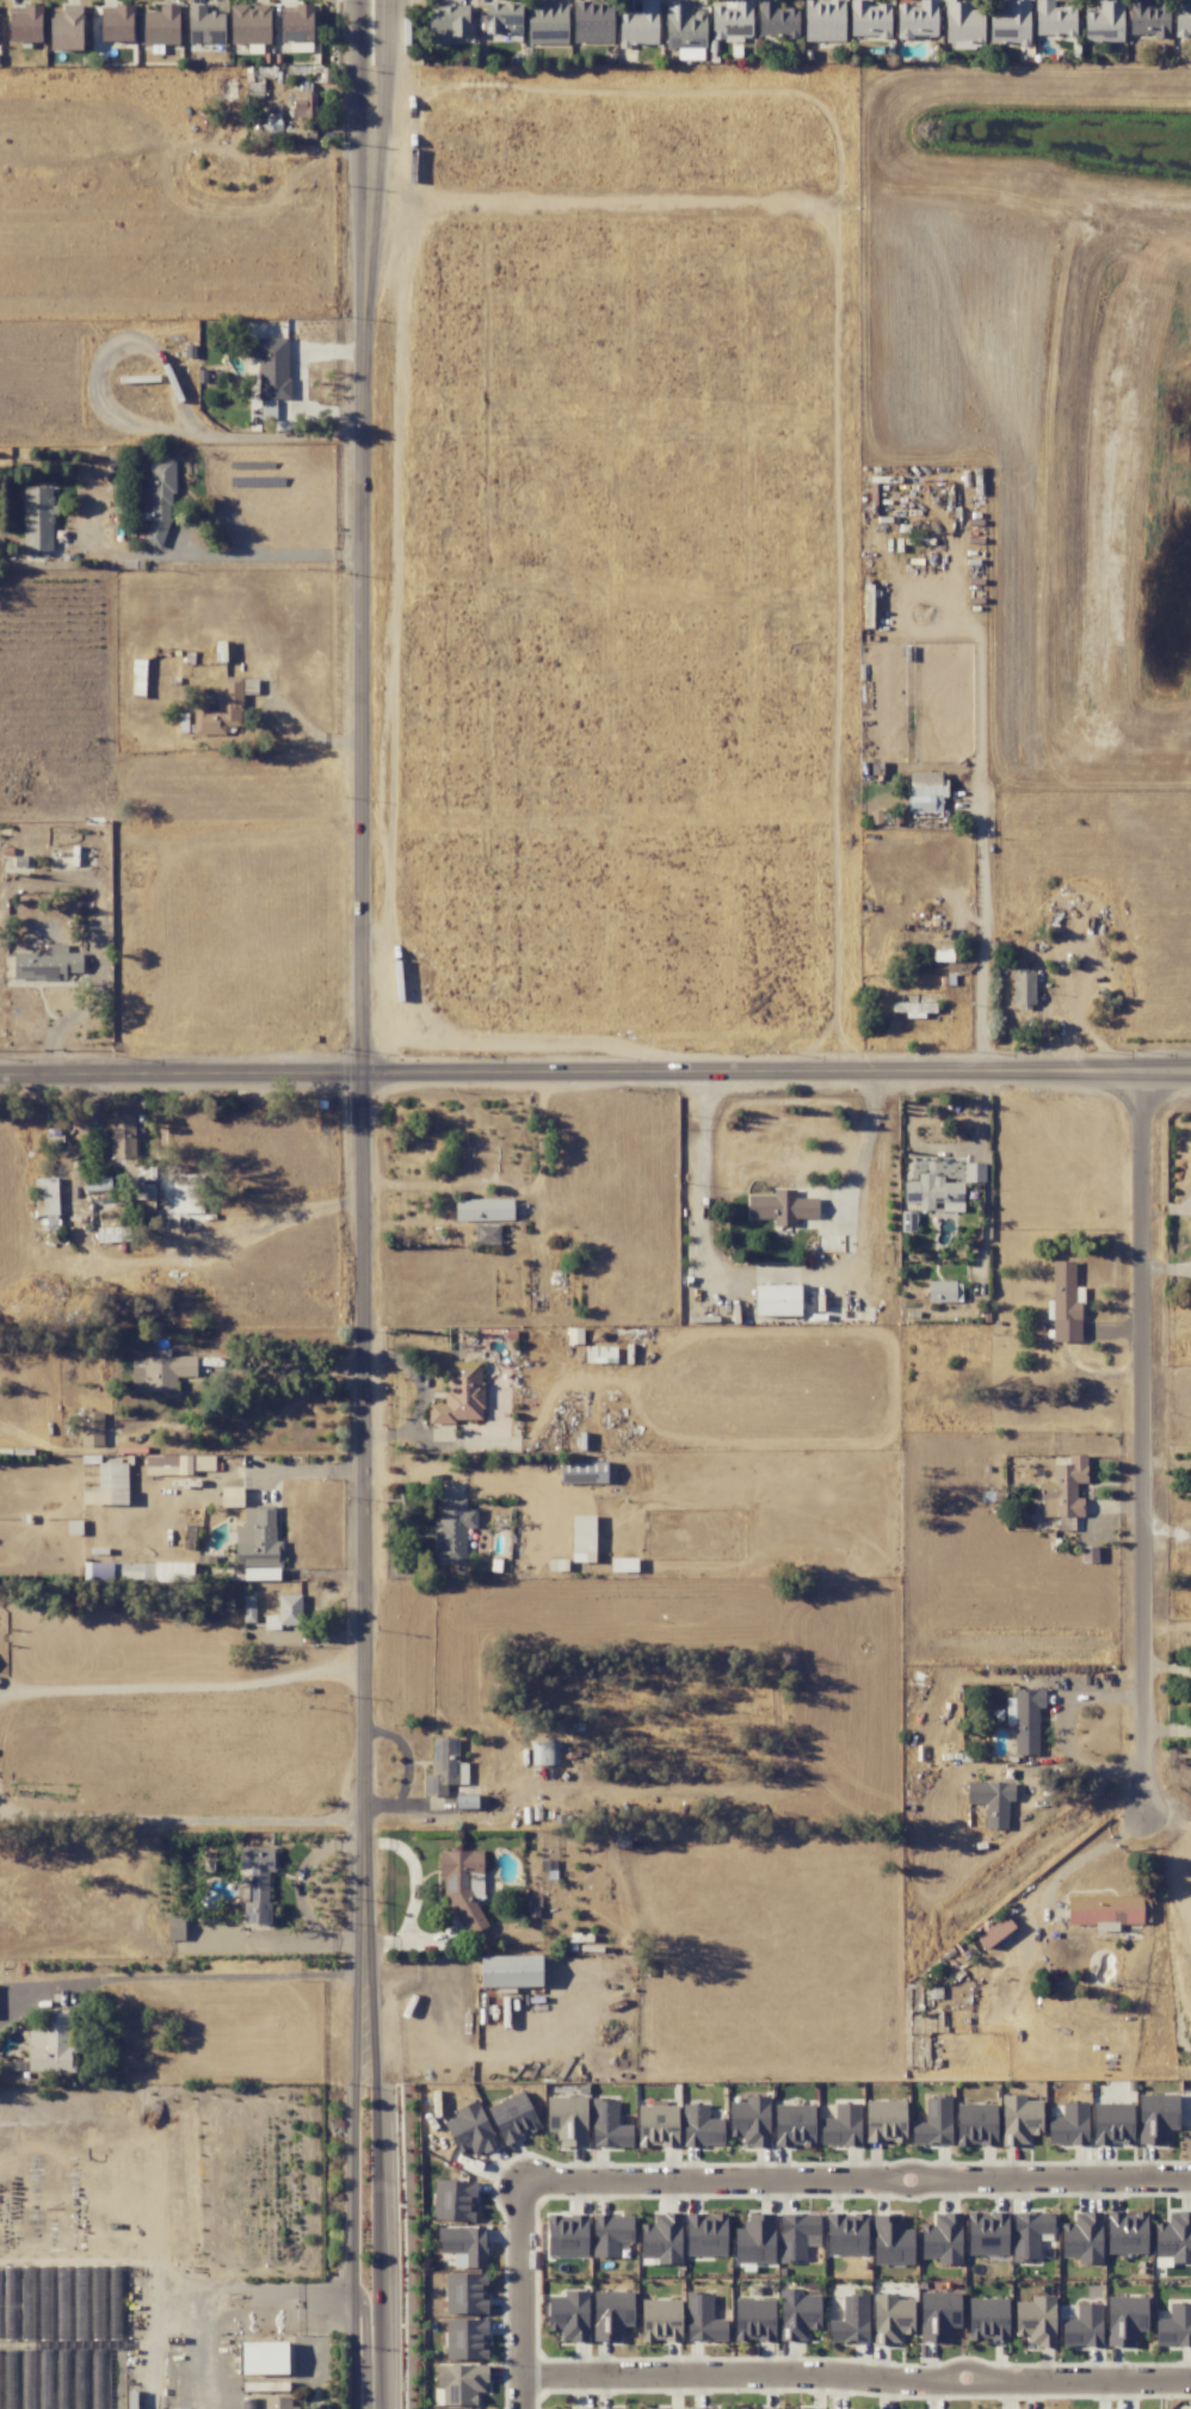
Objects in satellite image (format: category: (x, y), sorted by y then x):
building: (502, 18)
building: (1148, 18)
building: (776, 19)
building: (869, 19)
building: (917, 19)
building: (1054, 19)
building: (1183, 19)
building: (823, 20)
building: (592, 21)
building: (732, 21)
building: (1104, 21)
building: (547, 23)
building: (1011, 23)
building: (249, 24)
building: (296, 24)
building: (446, 24)
building: (24, 25)
building: (116, 25)
building: (159, 25)
building: (204, 25)
building: (638, 25)
building: (963, 25)
building: (684, 30)
building: (64, 31)
building: (303, 104)
road: (360, 116)
road: (379, 116)
building: (270, 126)
building: (271, 365)
building: (156, 499)
building: (37, 518)
road: (187, 554)
road: (346, 554)
building: (220, 709)
road: (308, 729)
building: (925, 791)
road: (982, 815)
building: (47, 963)
building: (1023, 988)
building: (913, 1008)
road: (595, 1070)
road: (364, 1105)
road: (982, 1108)
building: (130, 1159)
building: (974, 1172)
building: (934, 1193)
building: (186, 1196)
building: (45, 1198)
building: (780, 1206)
building: (483, 1209)
building: (112, 1234)
building: (486, 1234)
road: (775, 1273)
building: (944, 1291)
building: (777, 1299)
building: (1066, 1303)
building: (599, 1354)
road: (294, 1366)
building: (160, 1371)
building: (459, 1394)
road: (1149, 1438)
building: (177, 1464)
road: (1170, 1464)
building: (584, 1471)
building: (109, 1484)
building: (1065, 1488)
building: (452, 1528)
road: (1170, 1531)
building: (258, 1538)
building: (582, 1538)
building: (623, 1564)
building: (285, 1612)
road: (183, 1687)
road: (1062, 1707)
building: (1024, 1719)
building: (444, 1766)
road: (1088, 1780)
building: (992, 1800)
road: (181, 1824)
road: (1088, 1851)
building: (257, 1880)
building: (462, 1886)
building: (1106, 1910)
building: (174, 1927)
building: (994, 1932)
building: (510, 1971)
road: (216, 1978)
road: (364, 2000)
building: (51, 2045)
building: (513, 2117)
building: (1156, 2117)
building: (567, 2119)
building: (1019, 2119)
building: (749, 2120)
building: (885, 2120)
building: (933, 2123)
building: (607, 2124)
building: (841, 2124)
building: (975, 2124)
building: (1112, 2124)
building: (656, 2125)
building: (794, 2125)
building: (1069, 2125)
building: (701, 2126)
building: (470, 2130)
road: (856, 2180)
building: (453, 2200)
road: (354, 2215)
road: (377, 2215)
building: (987, 2232)
building: (1030, 2232)
building: (1125, 2232)
building: (610, 2234)
building: (705, 2234)
building: (846, 2234)
building: (566, 2235)
building: (797, 2235)
building: (1082, 2237)
building: (754, 2238)
building: (942, 2238)
building: (1173, 2238)
building: (661, 2240)
building: (891, 2240)
building: (464, 2246)
building: (465, 2293)
road: (522, 2294)
road: (240, 2311)
building: (611, 2314)
building: (797, 2314)
building: (569, 2315)
building: (938, 2315)
building: (703, 2318)
building: (890, 2318)
building: (987, 2318)
building: (660, 2320)
building: (754, 2320)
building: (1125, 2320)
building: (851, 2321)
building: (1036, 2321)
building: (1174, 2324)
building: (1082, 2327)
road: (369, 2329)
building: (465, 2339)
building: (264, 2358)
road: (856, 2373)
building: (458, 2384)
building: (277, 2402)
building: (579, 2408)
building: (622, 2408)
building: (661, 2408)
building: (760, 2408)
building: (816, 2408)

